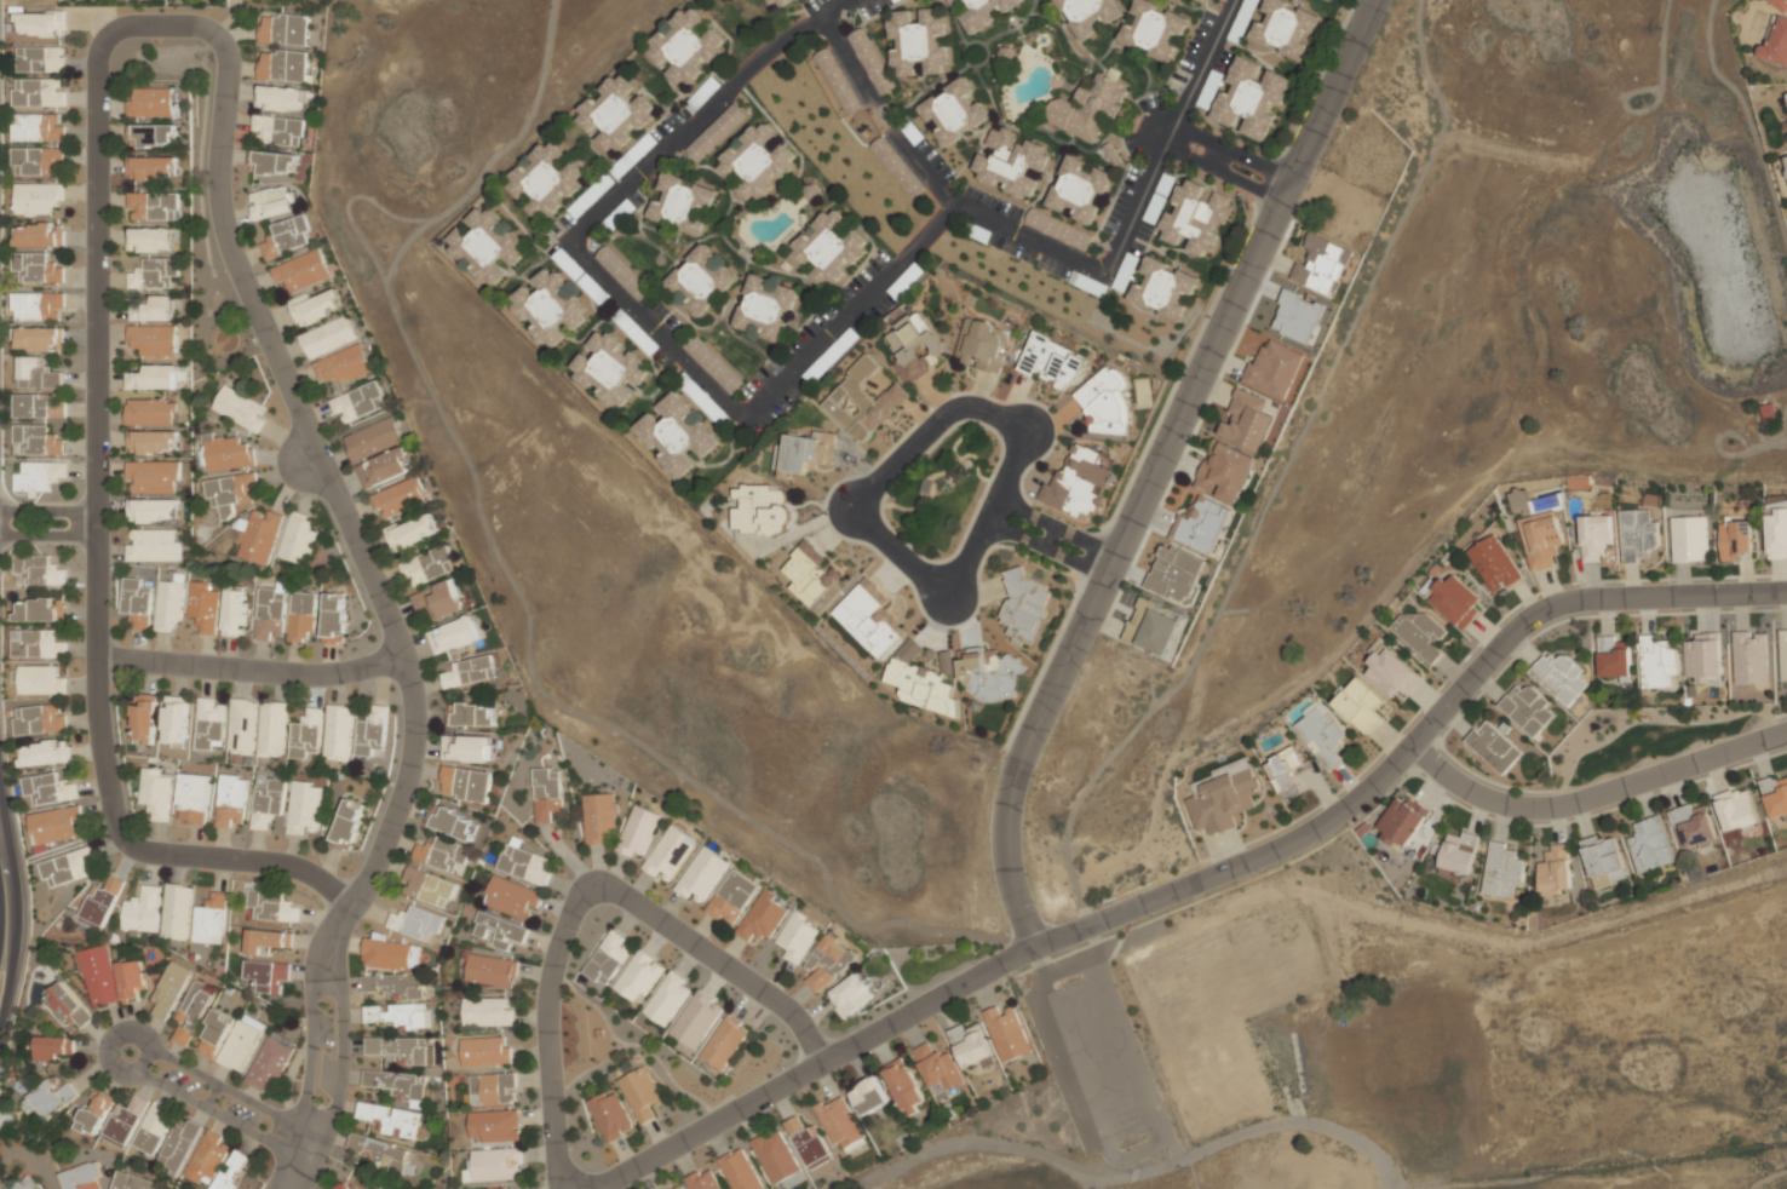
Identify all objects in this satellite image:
building: (1199, 0)
building: (1329, 0)
building: (775, 2)
building: (1780, 4)
parking lot: (814, 5)
parking lot: (874, 7)
building: (979, 12)
building: (1087, 15)
road: (226, 19)
parking lot: (1242, 19)
building: (40, 23)
building: (1285, 28)
building: (285, 29)
building: (1154, 29)
building: (919, 41)
building: (1776, 44)
building: (685, 46)
parking lot: (1193, 51)
building: (40, 58)
road: (847, 61)
building: (870, 61)
building: (283, 65)
parking lot: (1216, 79)
building: (837, 81)
building: (38, 92)
building: (1786, 94)
parking lot: (700, 96)
building: (280, 98)
building: (1251, 98)
building: (149, 103)
parking lot: (1151, 103)
building: (1088, 108)
building: (953, 111)
building: (614, 114)
building: (38, 127)
building: (278, 130)
building: (716, 133)
road: (1161, 133)
building: (153, 136)
parking lot: (647, 144)
parking lot: (1132, 145)
parking lot: (925, 149)
road: (1232, 153)
building: (1786, 157)
building: (39, 161)
building: (1011, 161)
building: (276, 162)
building: (757, 162)
road: (920, 167)
building: (151, 168)
building: (896, 168)
road: (1223, 173)
building: (545, 180)
building: (1079, 189)
building: (38, 197)
parking lot: (1122, 200)
parking lot: (585, 201)
building: (271, 202)
parking lot: (993, 202)
building: (682, 203)
building: (153, 206)
parking lot: (1155, 207)
parking lot: (621, 213)
building: (1195, 218)
building: (1058, 229)
building: (39, 235)
building: (287, 236)
building: (153, 240)
parking lot: (999, 242)
building: (487, 246)
building: (829, 248)
building: (1321, 265)
parking lot: (1127, 266)
building: (36, 268)
building: (303, 271)
building: (155, 274)
building: (625, 275)
parking lot: (580, 276)
parking lot: (862, 276)
parking lot: (1071, 276)
building: (700, 280)
parking lot: (893, 293)
building: (36, 305)
building: (315, 306)
building: (548, 306)
building: (765, 308)
building: (153, 309)
parking lot: (659, 309)
parking lot: (676, 327)
parking lot: (810, 329)
building: (328, 337)
parking lot: (639, 337)
building: (39, 338)
building: (153, 340)
building: (982, 344)
building: (915, 346)
parking lot: (835, 351)
building: (1053, 361)
road: (799, 362)
building: (713, 364)
building: (344, 366)
building: (610, 368)
building: (1274, 369)
building: (36, 373)
building: (157, 377)
parking lot: (760, 377)
building: (878, 383)
parking lot: (702, 398)
building: (358, 401)
building: (861, 402)
building: (1108, 402)
building: (31, 406)
building: (240, 408)
building: (58, 409)
parking lot: (778, 410)
building: (150, 412)
building: (1248, 421)
building: (677, 433)
road: (1024, 433)
building: (373, 438)
building: (35, 440)
building: (151, 442)
building: (228, 453)
building: (800, 453)
road: (896, 463)
building: (384, 467)
road: (1156, 467)
building: (1225, 471)
building: (39, 475)
building: (153, 477)
building: (1078, 482)
road: (96, 490)
building: (231, 492)
building: (400, 496)
building: (1518, 500)
building: (760, 509)
road: (857, 509)
road: (47, 511)
building: (153, 511)
building: (1201, 523)
road: (1056, 528)
building: (1777, 529)
building: (413, 532)
building: (1639, 534)
road: (47, 535)
building: (258, 535)
building: (1596, 536)
building: (297, 538)
building: (1690, 538)
building: (1542, 539)
building: (1736, 540)
building: (151, 545)
road: (1046, 548)
building: (1495, 563)
building: (429, 565)
building: (39, 569)
building: (1176, 573)
building: (811, 578)
road: (947, 590)
building: (1455, 599)
building: (439, 601)
building: (137, 602)
building: (168, 604)
building: (203, 605)
building: (1024, 607)
building: (38, 609)
building: (235, 610)
building: (269, 611)
building: (301, 618)
building: (334, 618)
building: (868, 618)
road: (391, 625)
building: (1151, 626)
building: (1421, 633)
building: (455, 634)
building: (39, 644)
building: (1783, 654)
building: (1751, 656)
building: (1614, 657)
building: (1705, 659)
building: (947, 661)
building: (1657, 662)
road: (249, 670)
building: (1390, 670)
building: (469, 672)
building: (989, 673)
building: (1561, 678)
building: (39, 679)
building: (919, 682)
building: (1361, 705)
building: (1528, 708)
building: (472, 714)
building: (39, 719)
building: (142, 719)
building: (173, 720)
building: (208, 724)
building: (241, 726)
building: (270, 729)
street lamp: (1443, 730)
building: (304, 733)
building: (337, 733)
building: (370, 733)
building: (1322, 735)
building: (467, 747)
building: (1494, 747)
building: (44, 753)
building: (1286, 771)
building: (465, 782)
building: (48, 789)
building: (154, 792)
building: (546, 793)
road: (1593, 795)
building: (1775, 795)
building: (1222, 797)
building: (190, 799)
building: (230, 802)
building: (266, 804)
building: (303, 806)
building: (1736, 809)
building: (599, 817)
building: (1401, 821)
building: (347, 822)
building: (452, 822)
building: (1694, 825)
building: (56, 826)
road: (4, 827)
building: (638, 831)
building: (1649, 844)
building: (1459, 852)
building: (442, 854)
building: (670, 854)
building: (1603, 860)
building: (523, 865)
building: (68, 867)
building: (1502, 871)
building: (1553, 871)
street lamp: (1258, 872)
building: (701, 874)
road: (1202, 880)
building: (427, 886)
road: (582, 895)
building: (731, 896)
building: (510, 897)
building: (100, 903)
street lamp: (1038, 903)
building: (271, 906)
road: (17, 909)
building: (142, 912)
building: (177, 912)
building: (762, 917)
building: (211, 919)
building: (415, 921)
building: (499, 931)
street lamp: (579, 931)
building: (797, 937)
building: (265, 941)
building: (391, 954)
building: (608, 958)
building: (826, 964)
building: (490, 970)
building: (266, 976)
building: (640, 976)
building: (110, 977)
building: (395, 984)
building: (168, 990)
building: (850, 995)
building: (668, 998)
building: (68, 1005)
building: (487, 1011)
building: (191, 1013)
building: (400, 1015)
building: (697, 1019)
building: (1007, 1032)
building: (230, 1039)
building: (725, 1042)
building: (970, 1044)
building: (52, 1047)
building: (395, 1049)
building: (484, 1051)
building: (270, 1062)
building: (707, 1067)
building: (938, 1070)
building: (396, 1085)
building: (903, 1085)
building: (493, 1089)
building: (639, 1093)
building: (868, 1096)
road: (219, 1097)
building: (50, 1098)
building: (93, 1114)
building: (610, 1115)
building: (390, 1119)
building: (123, 1121)
building: (838, 1121)
building: (495, 1125)
building: (153, 1128)
building: (808, 1143)
building: (180, 1145)
building: (389, 1154)
building: (775, 1155)
building: (207, 1159)
building: (493, 1165)
street lamp: (1185, 1168)
building: (739, 1170)
building: (234, 1171)
street lamp: (594, 1172)
building: (82, 1177)
building: (1350, 1178)
building: (702, 1181)
building: (131, 1182)
building: (28, 1183)
building: (343, 1185)
building: (502, 1188)
building: (665, 1188)
building: (679, 1188)

